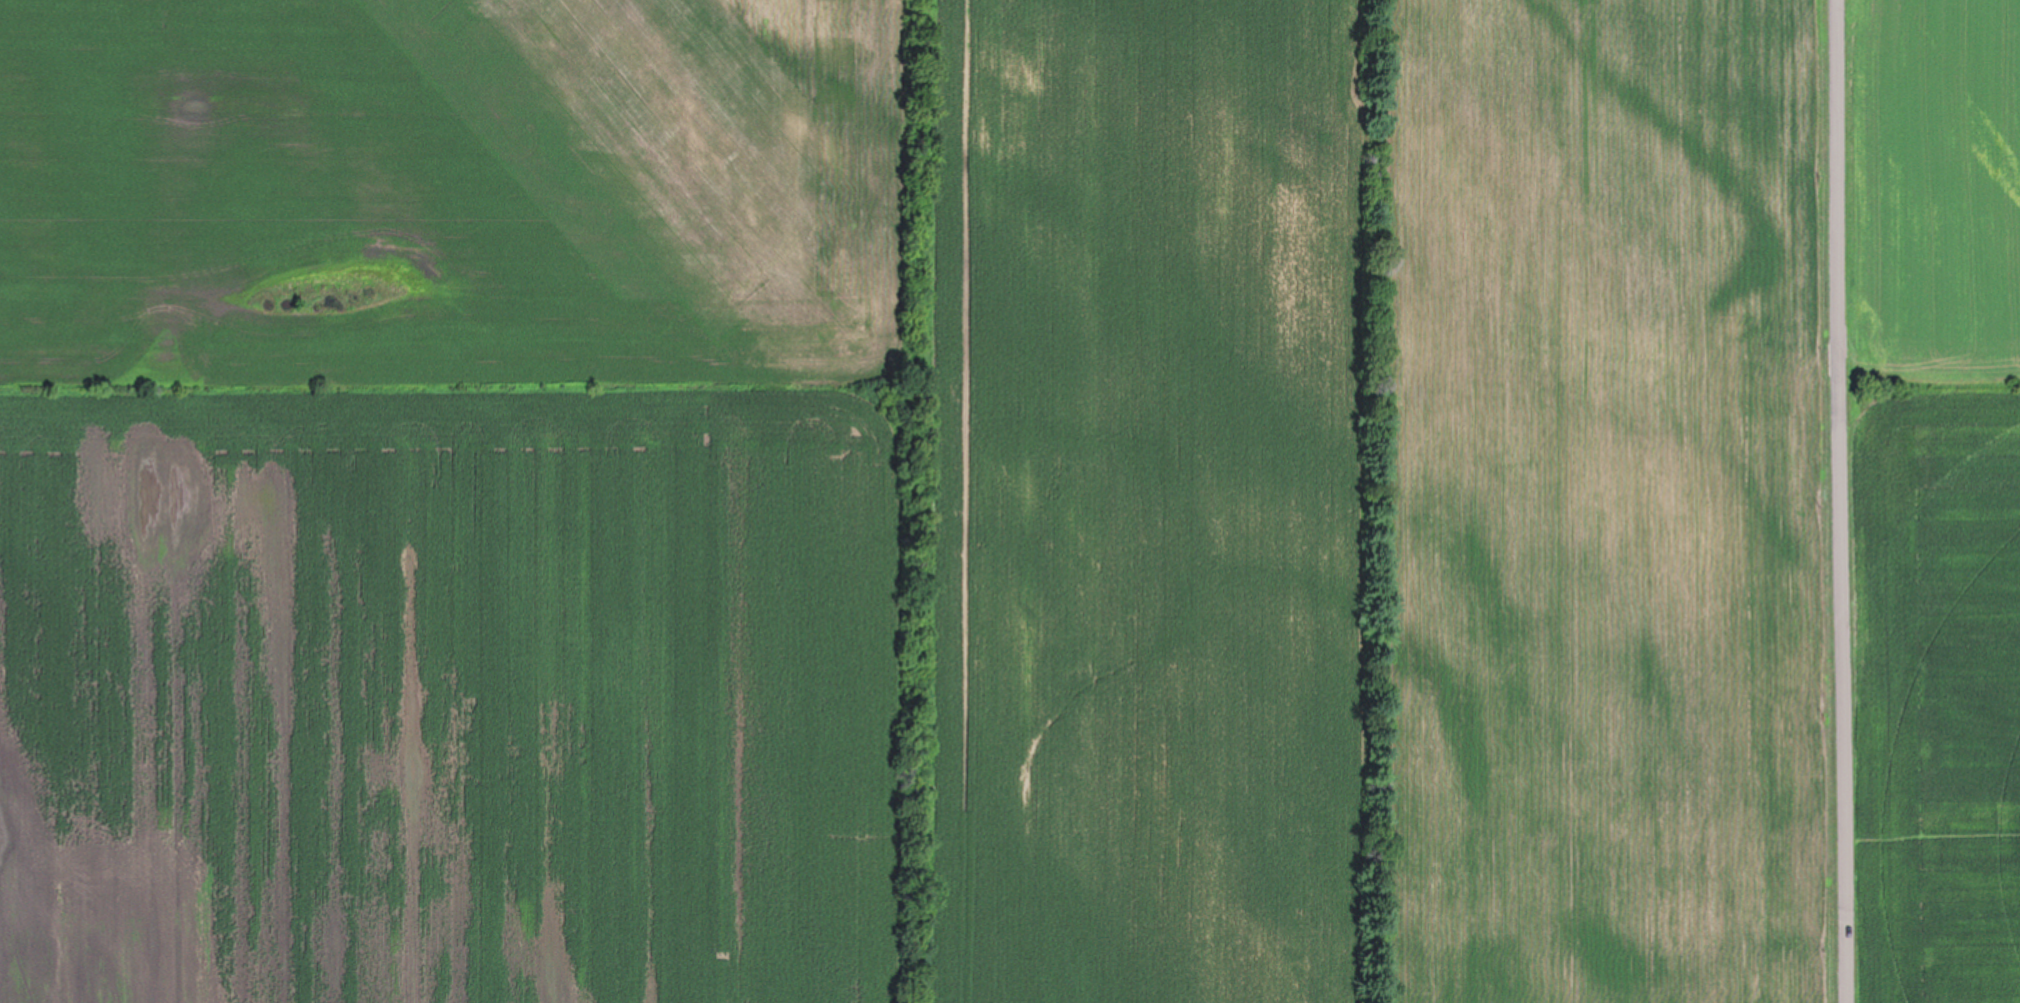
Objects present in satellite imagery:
road: (1844, 501)

